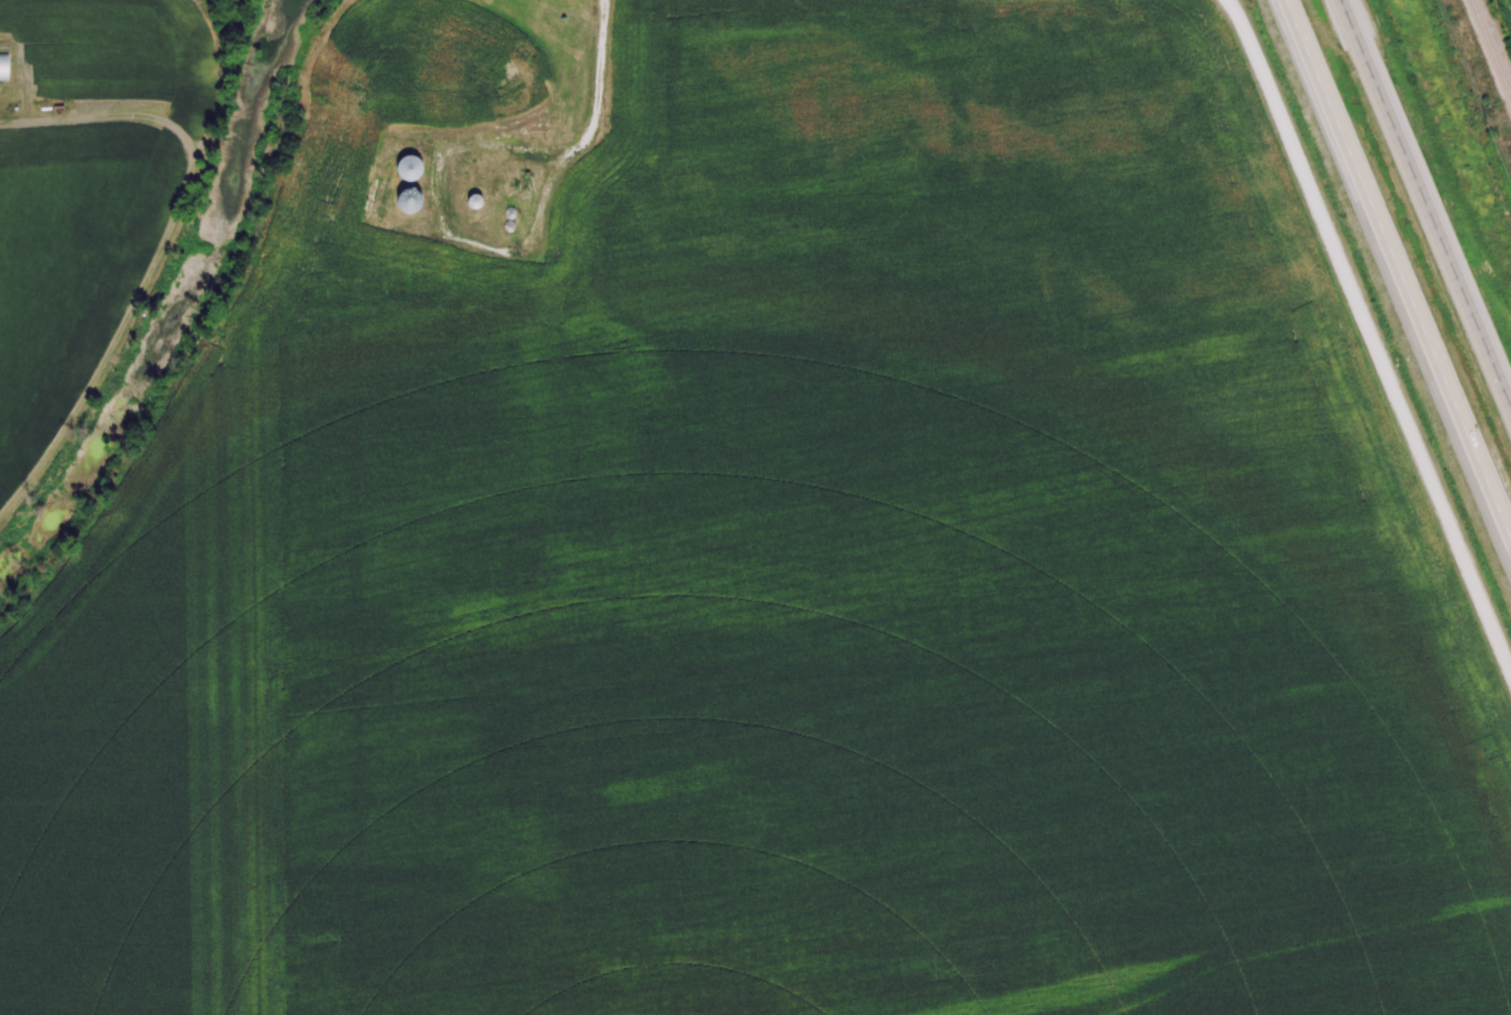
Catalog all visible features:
railway: (1492, 45)
road: (1425, 204)
road: (1396, 272)
road: (1371, 334)

